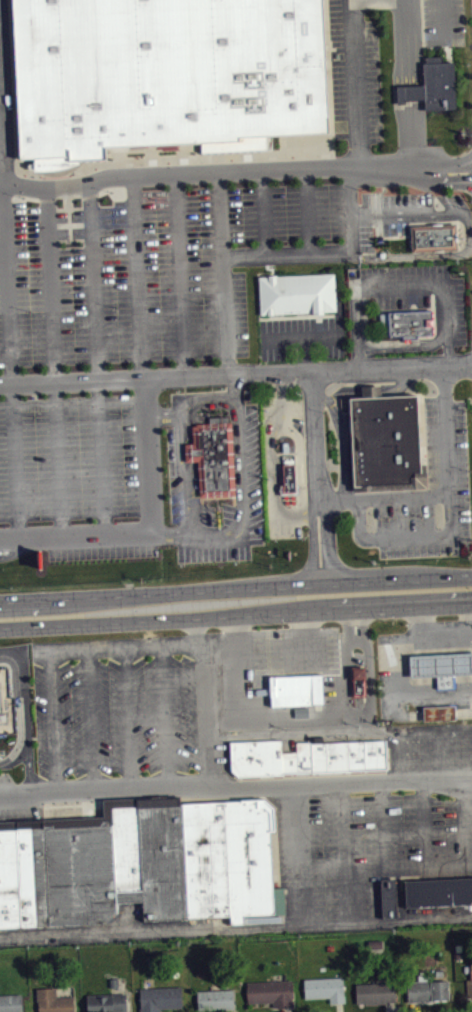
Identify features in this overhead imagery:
parking lot: (354, 73)
building: (164, 75)
road: (355, 84)
building: (438, 84)
parking lot: (5, 87)
road: (234, 172)
road: (305, 211)
road: (263, 212)
road: (406, 213)
building: (435, 237)
road: (327, 252)
road: (429, 254)
parking lot: (174, 266)
road: (223, 275)
road: (177, 276)
road: (137, 277)
road: (400, 285)
building: (297, 293)
parking lot: (422, 295)
road: (7, 322)
building: (406, 323)
parking lot: (302, 335)
road: (302, 335)
road: (403, 346)
road: (96, 363)
road: (53, 364)
road: (236, 375)
road: (399, 385)
road: (371, 391)
road: (336, 394)
road: (280, 395)
road: (187, 398)
parking lot: (282, 410)
road: (235, 420)
building: (385, 441)
road: (190, 451)
parking lot: (446, 451)
building: (213, 457)
parking lot: (81, 458)
road: (314, 458)
road: (298, 464)
building: (288, 473)
road: (275, 481)
road: (190, 497)
road: (383, 497)
road: (246, 501)
parking lot: (215, 506)
road: (449, 514)
parking lot: (284, 531)
road: (151, 533)
parking lot: (104, 553)
road: (361, 580)
road: (153, 592)
road: (27, 600)
road: (365, 606)
road: (129, 620)
road: (201, 630)
road: (462, 637)
road: (469, 638)
road: (113, 647)
road: (12, 649)
building: (440, 666)
gas station: (440, 666)
road: (393, 678)
building: (358, 681)
building: (298, 694)
building: (5, 704)
building: (437, 712)
road: (206, 716)
parking lot: (119, 717)
road: (167, 718)
road: (129, 719)
road: (91, 721)
road: (55, 722)
road: (26, 723)
road: (20, 726)
road: (339, 734)
building: (415, 752)
parking lot: (437, 755)
road: (440, 756)
road: (395, 757)
building: (305, 759)
road: (341, 784)
road: (105, 793)
road: (425, 824)
road: (463, 825)
road: (382, 827)
parking lot: (364, 849)
road: (345, 854)
road: (296, 856)
building: (138, 865)
road: (408, 869)
building: (437, 891)
building: (387, 896)
road: (236, 929)
building: (469, 981)
building: (325, 988)
building: (270, 992)
building: (375, 992)
building: (428, 992)
building: (159, 998)
building: (215, 999)
building: (53, 1001)
building: (10, 1002)
building: (106, 1002)

